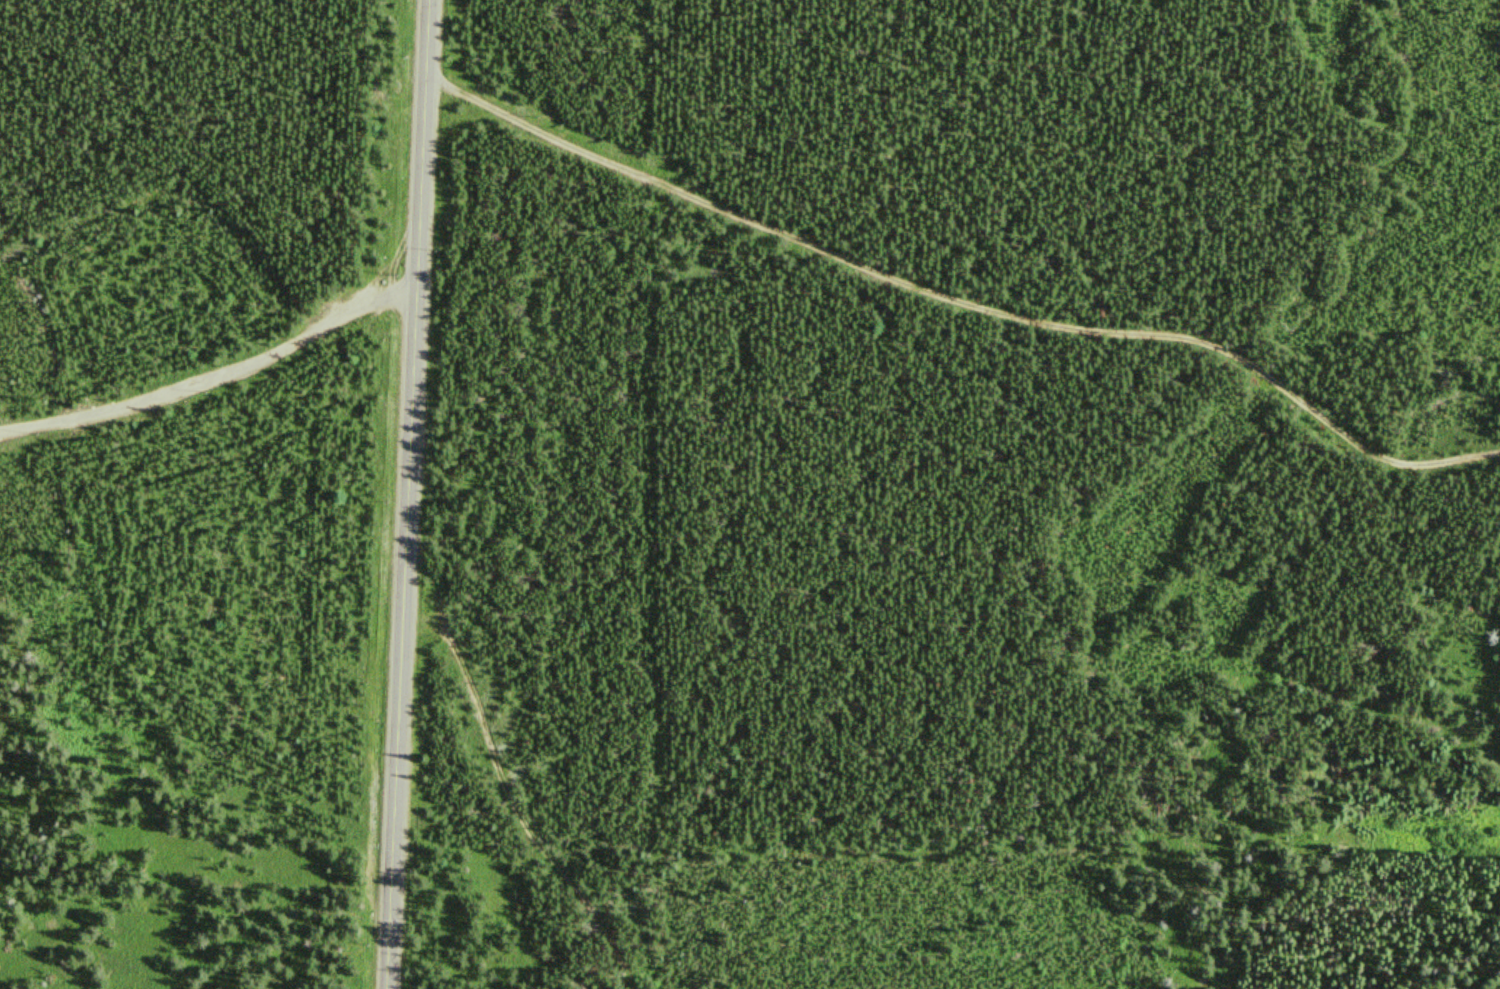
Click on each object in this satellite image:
road: (660, 133)
road: (208, 354)
road: (407, 494)
road: (501, 778)

